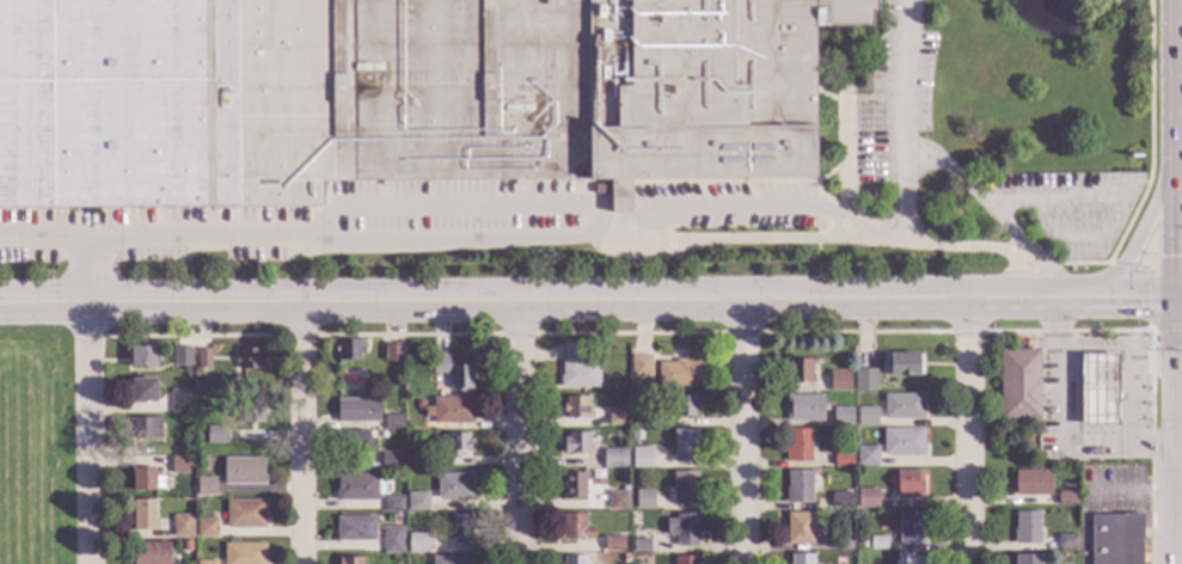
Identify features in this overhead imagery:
road: (1176, 29)
road: (907, 74)
building: (397, 96)
road: (1150, 136)
road: (906, 196)
road: (742, 208)
road: (459, 209)
road: (991, 215)
road: (618, 233)
road: (72, 243)
road: (495, 243)
road: (988, 250)
road: (1131, 252)
road: (1120, 263)
road: (1146, 264)
road: (1177, 281)
road: (590, 302)
traffic signals: (1177, 304)
road: (1150, 318)
building: (348, 350)
building: (392, 352)
building: (142, 356)
building: (182, 356)
building: (203, 358)
building: (249, 360)
building: (902, 364)
building: (639, 366)
building: (577, 369)
building: (798, 369)
building: (452, 372)
building: (680, 372)
building: (234, 375)
road: (1133, 379)
building: (864, 380)
building: (839, 381)
building: (1018, 385)
building: (1098, 390)
building: (142, 391)
building: (180, 401)
building: (419, 405)
building: (684, 406)
building: (902, 406)
building: (576, 407)
building: (803, 409)
building: (357, 410)
building: (449, 410)
building: (251, 411)
building: (617, 417)
building: (841, 417)
building: (865, 417)
building: (392, 422)
road: (1068, 422)
building: (146, 428)
building: (188, 430)
road: (88, 433)
road: (742, 433)
road: (301, 434)
road: (517, 434)
road: (972, 434)
building: (215, 435)
building: (381, 435)
building: (636, 435)
building: (410, 436)
building: (353, 442)
building: (902, 442)
building: (576, 443)
building: (458, 445)
building: (685, 445)
building: (797, 446)
building: (185, 449)
building: (866, 456)
building: (614, 458)
building: (642, 458)
building: (841, 460)
building: (391, 461)
building: (180, 466)
building: (243, 471)
building: (146, 479)
building: (908, 483)
building: (1031, 483)
building: (574, 485)
building: (453, 486)
building: (206, 488)
building: (356, 488)
building: (684, 488)
building: (797, 488)
building: (865, 497)
building: (644, 499)
building: (617, 501)
building: (840, 501)
building: (1076, 501)
building: (416, 502)
building: (393, 504)
building: (244, 514)
building: (143, 515)
building: (414, 521)
building: (180, 526)
building: (206, 528)
building: (575, 528)
building: (798, 528)
building: (910, 528)
building: (1025, 528)
building: (355, 529)
building: (460, 529)
building: (682, 529)
building: (1115, 539)
building: (392, 540)
building: (1066, 540)
building: (841, 541)
building: (417, 542)
building: (862, 542)
building: (613, 544)
building: (877, 544)
building: (185, 545)
building: (641, 545)
building: (151, 553)
building: (244, 553)
building: (625, 558)
building: (801, 559)
building: (907, 559)
building: (1027, 559)
building: (349, 560)
building: (452, 560)
building: (574, 560)
building: (685, 560)
building: (206, 563)

